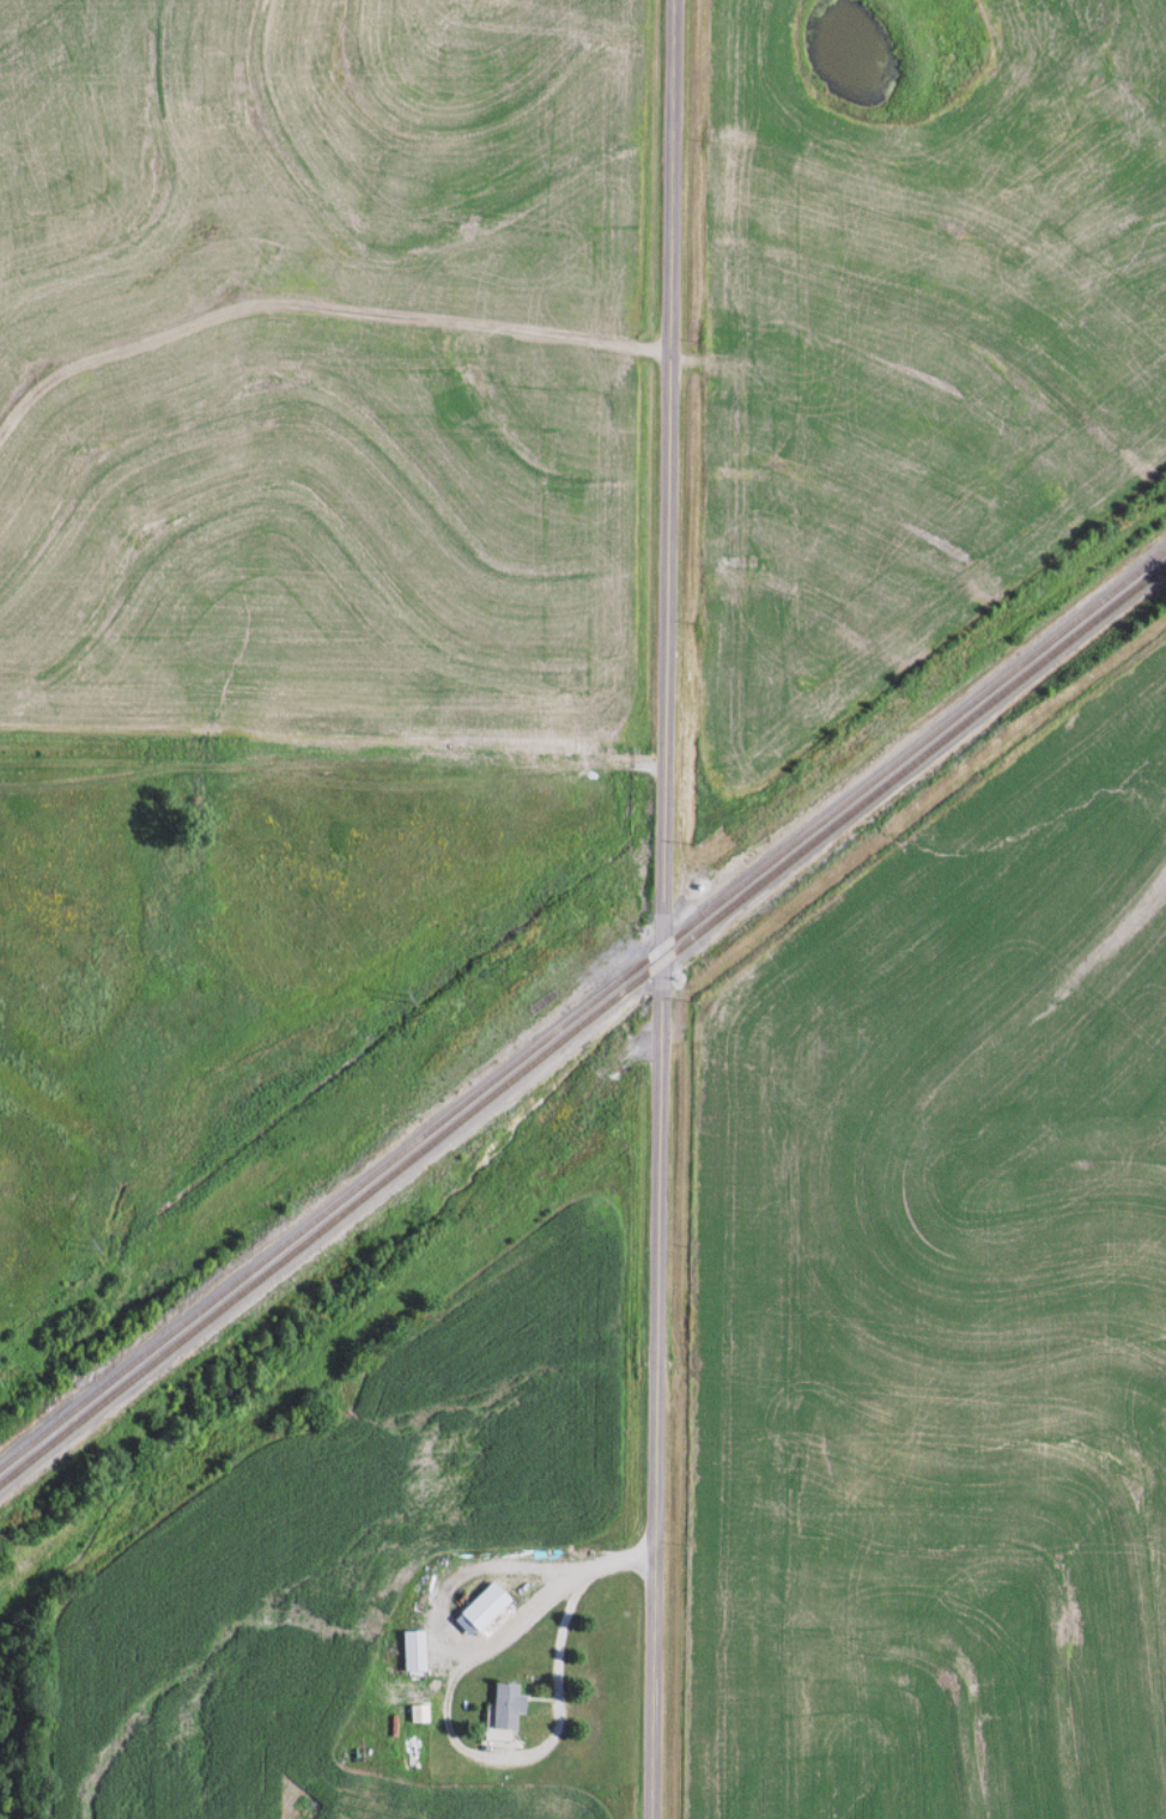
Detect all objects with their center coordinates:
road: (332, 784)
road: (661, 909)
railway: (583, 1006)
railway: (582, 1021)
road: (621, 1562)
building: (480, 1606)
building: (409, 1649)
building: (503, 1704)
road: (545, 1747)

